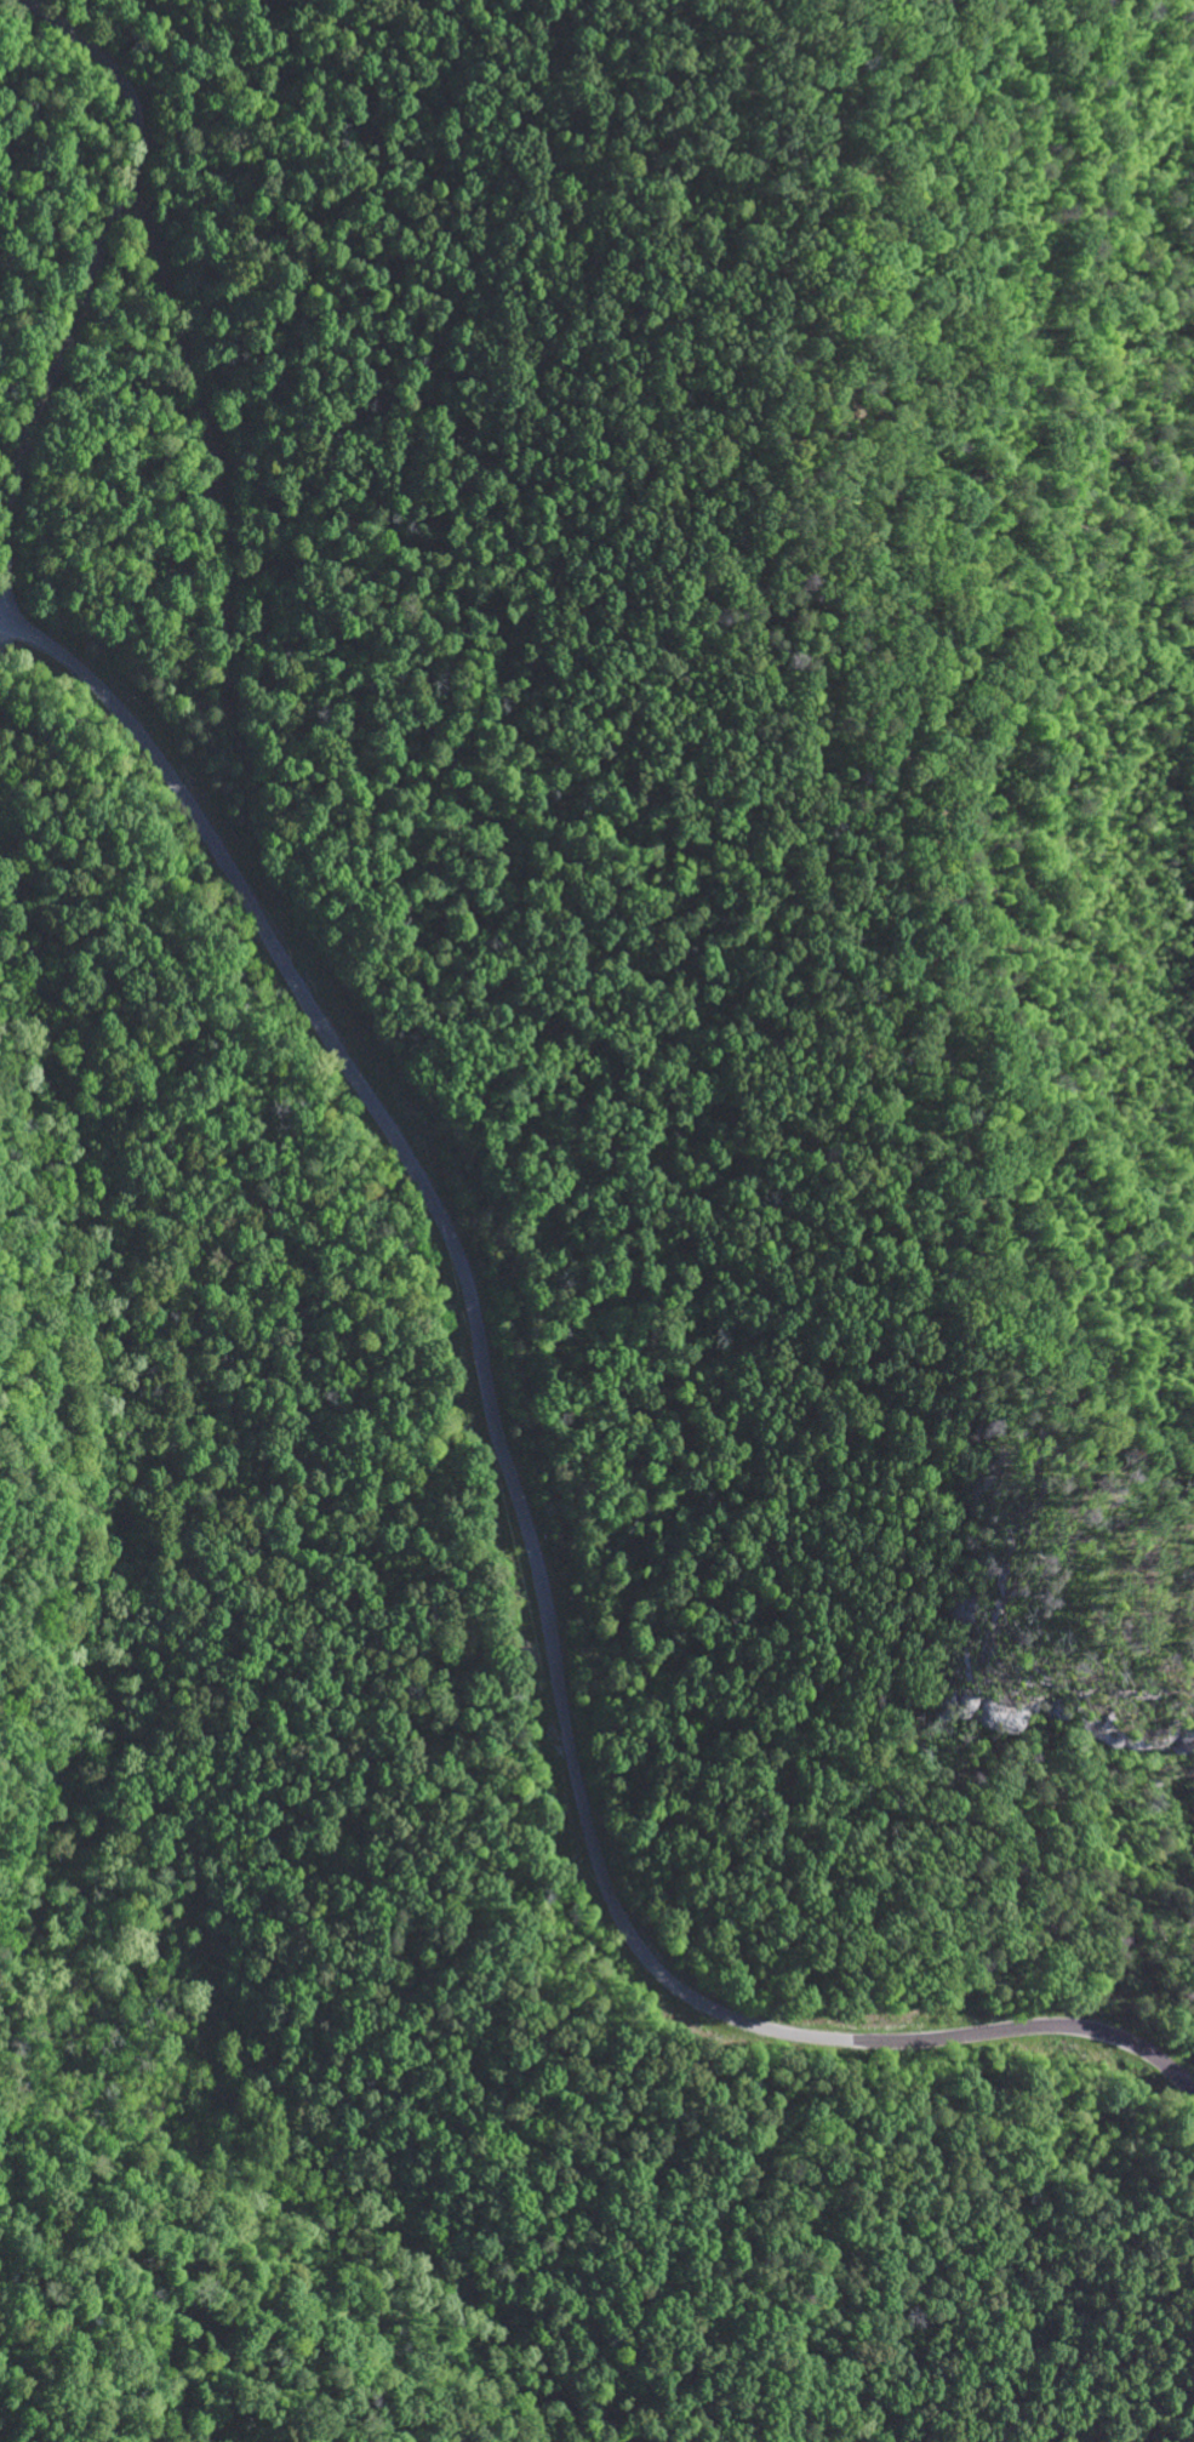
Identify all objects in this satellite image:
road: (90, 281)
road: (522, 1516)
road: (110, 1590)

